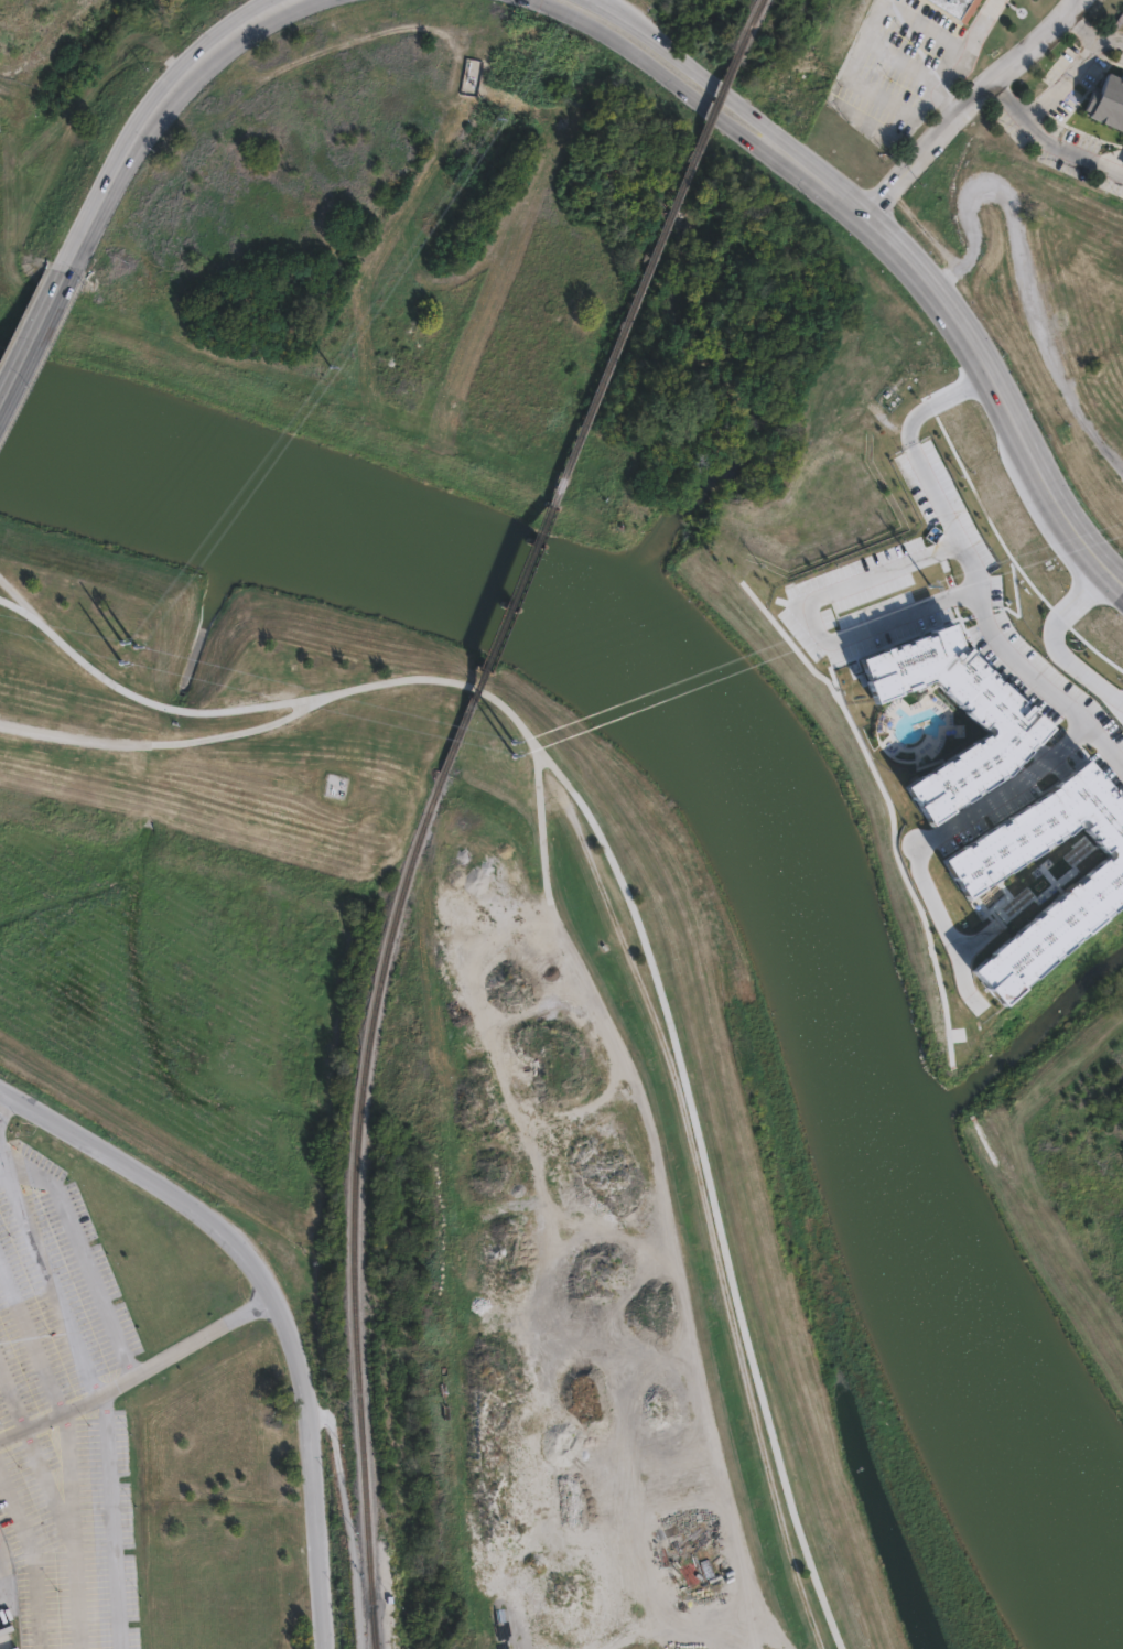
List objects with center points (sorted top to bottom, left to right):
building: (981, 0)
road: (542, 1)
building: (952, 9)
railway: (748, 25)
road: (1110, 37)
road: (957, 60)
road: (693, 65)
road: (662, 73)
road: (1059, 86)
road: (970, 103)
building: (1109, 111)
road: (154, 114)
power tower: (488, 132)
road: (1070, 153)
building: (1122, 164)
road: (34, 332)
road: (975, 343)
power tower: (322, 380)
railway: (592, 413)
road: (980, 560)
power tower: (931, 584)
road: (14, 593)
road: (830, 614)
road: (1068, 632)
power tower: (133, 657)
building: (1004, 735)
road: (154, 744)
power tower: (497, 750)
river: (785, 807)
road: (946, 830)
building: (964, 882)
road: (561, 910)
road: (3, 1107)
railway: (358, 1206)
road: (708, 1208)
road: (83, 1255)
road: (47, 1276)
road: (273, 1302)
road: (30, 1341)
road: (138, 1371)
road: (11, 1401)
parking lot: (63, 1414)
road: (69, 1484)
road: (347, 1520)
road: (111, 1521)
road: (68, 1534)
road: (32, 1559)
railway: (371, 1634)
road: (745, 1634)

